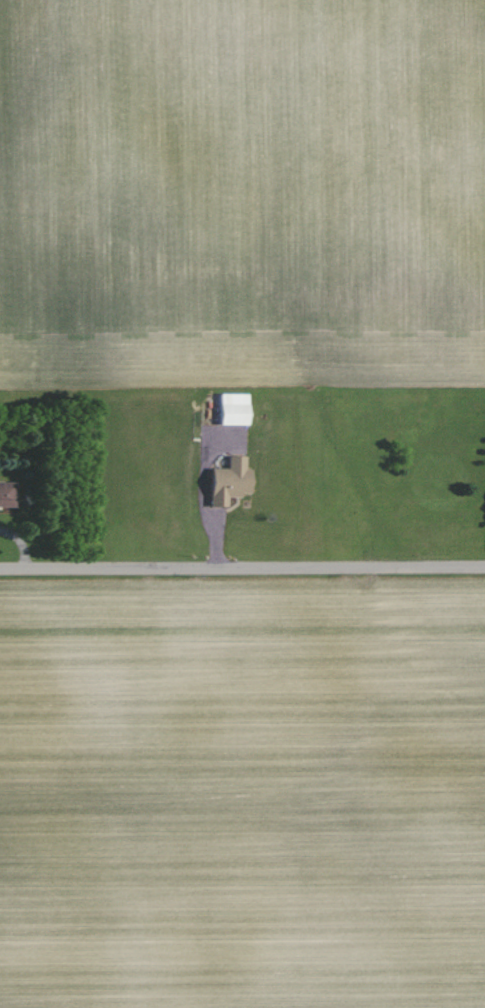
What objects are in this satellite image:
building: (230, 408)
building: (227, 480)
building: (6, 493)
road: (242, 566)

